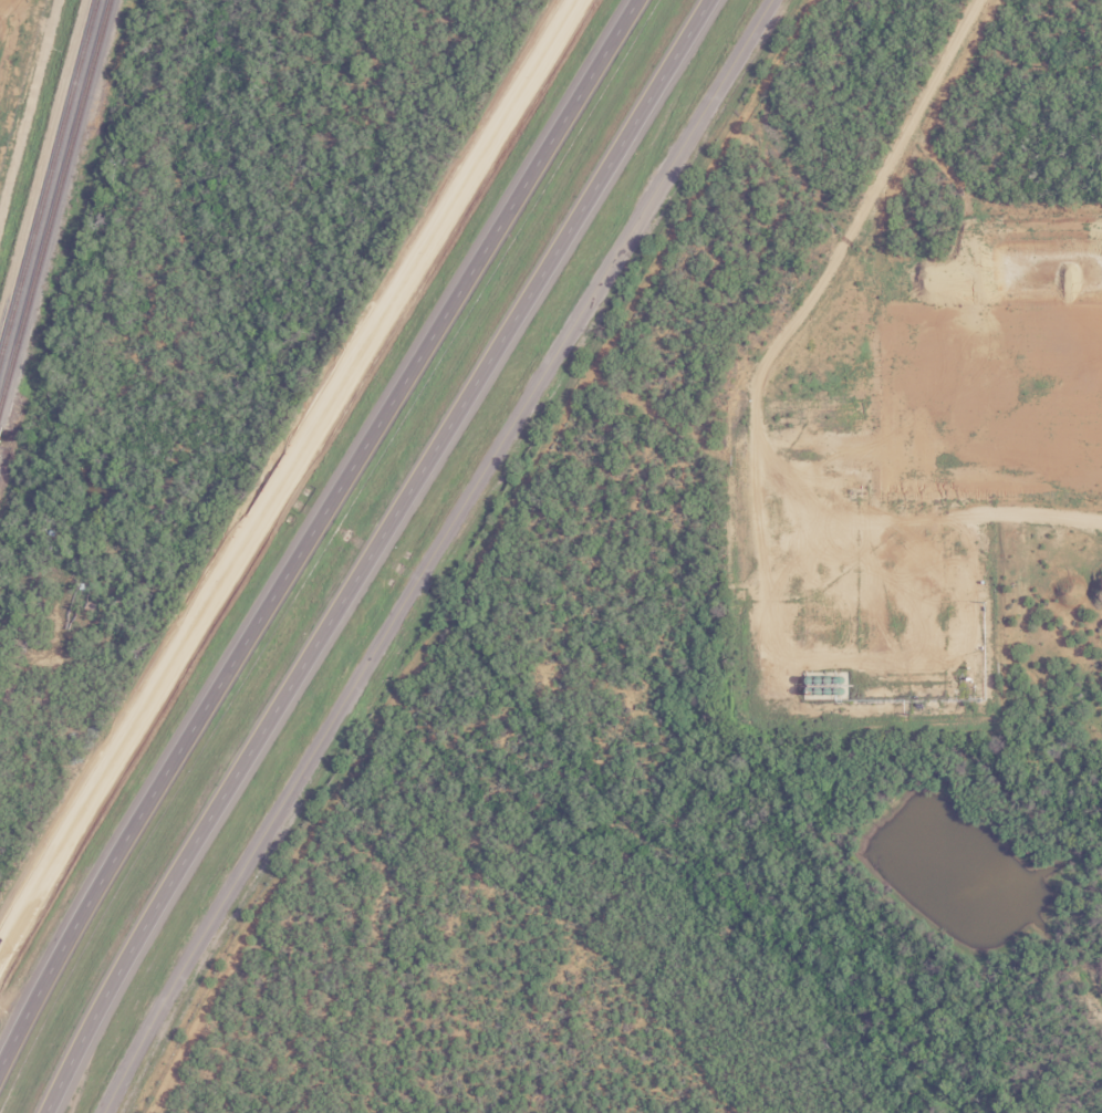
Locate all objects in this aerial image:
railway: (54, 202)
road: (289, 472)
road: (313, 531)
road: (372, 552)
road: (433, 552)

